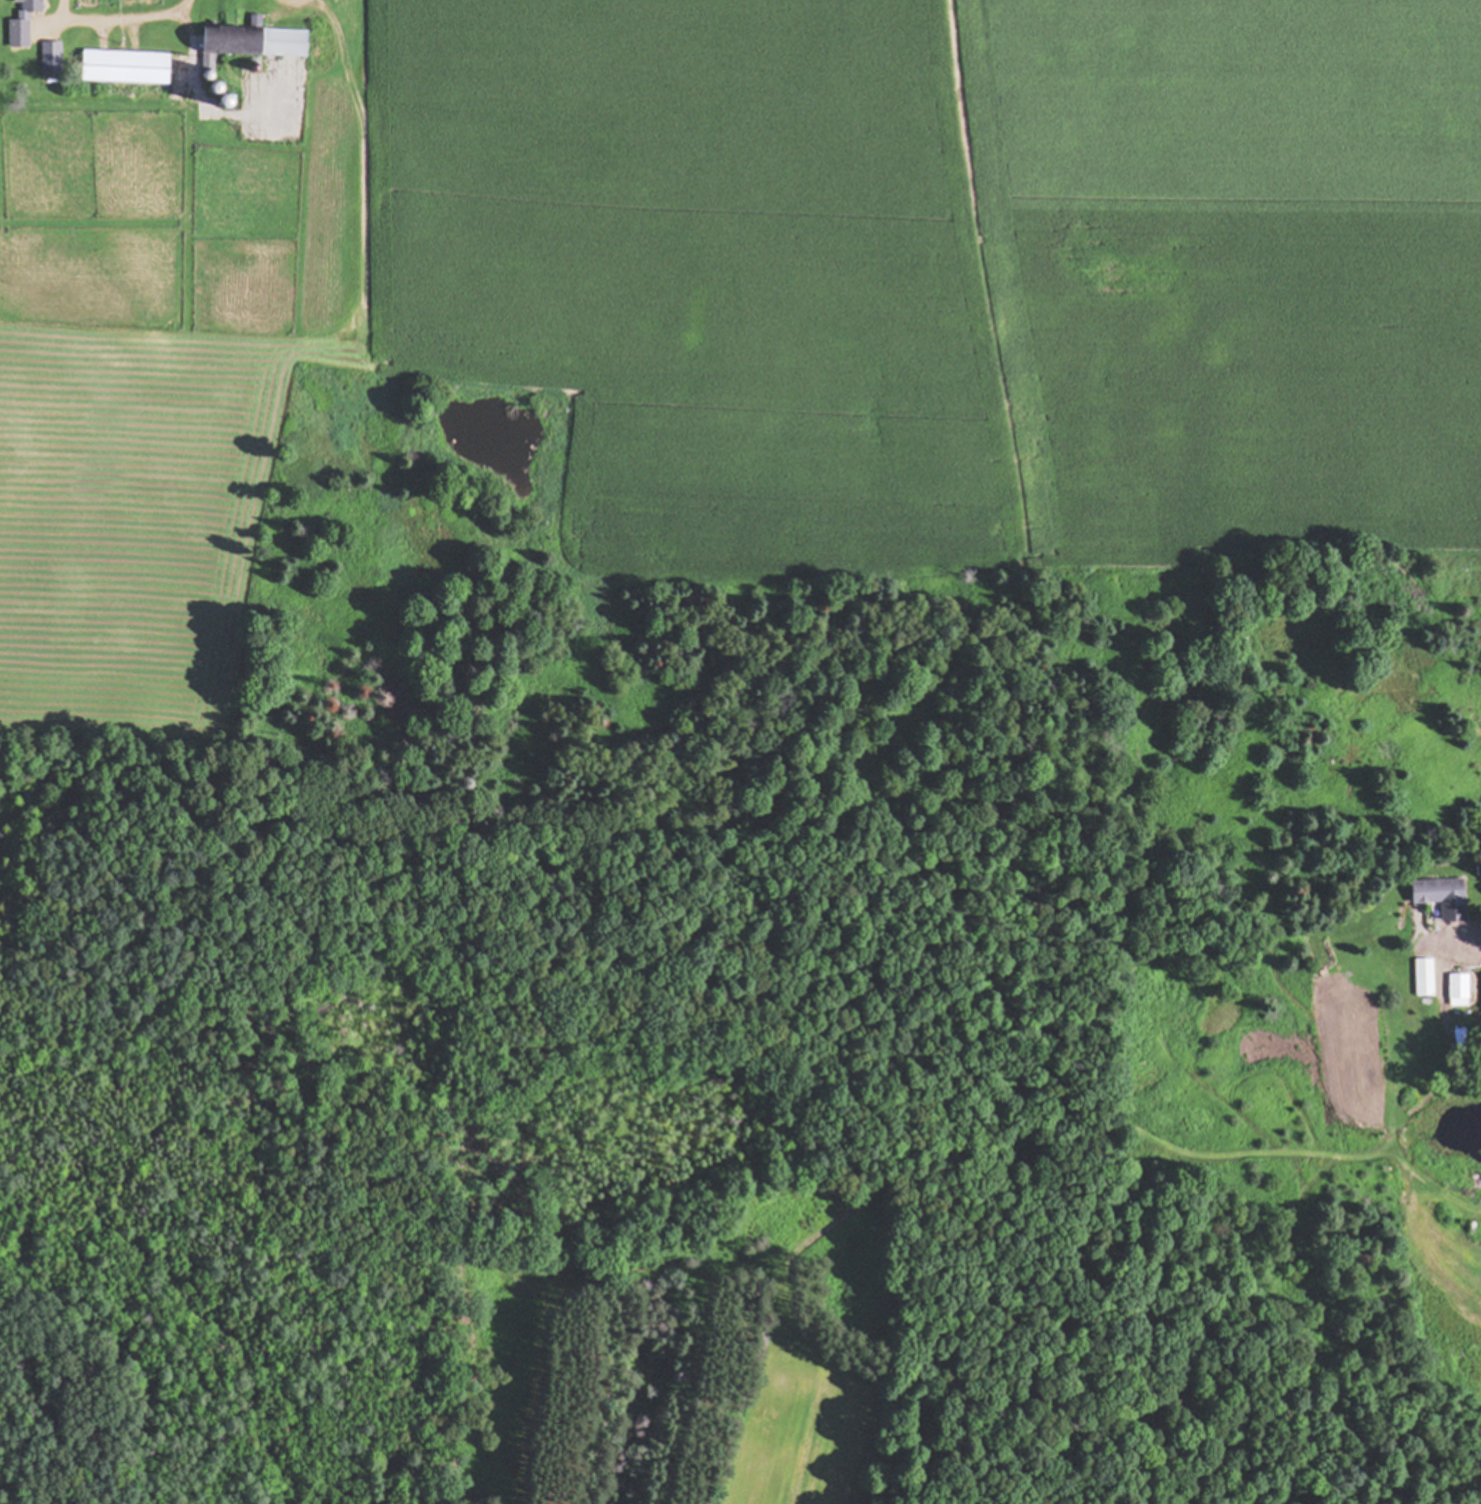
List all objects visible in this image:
building: (33, 6)
building: (20, 34)
building: (252, 45)
building: (53, 59)
building: (127, 68)
building: (222, 93)
building: (1445, 896)
building: (1426, 978)
building: (1460, 990)
building: (1462, 1040)

